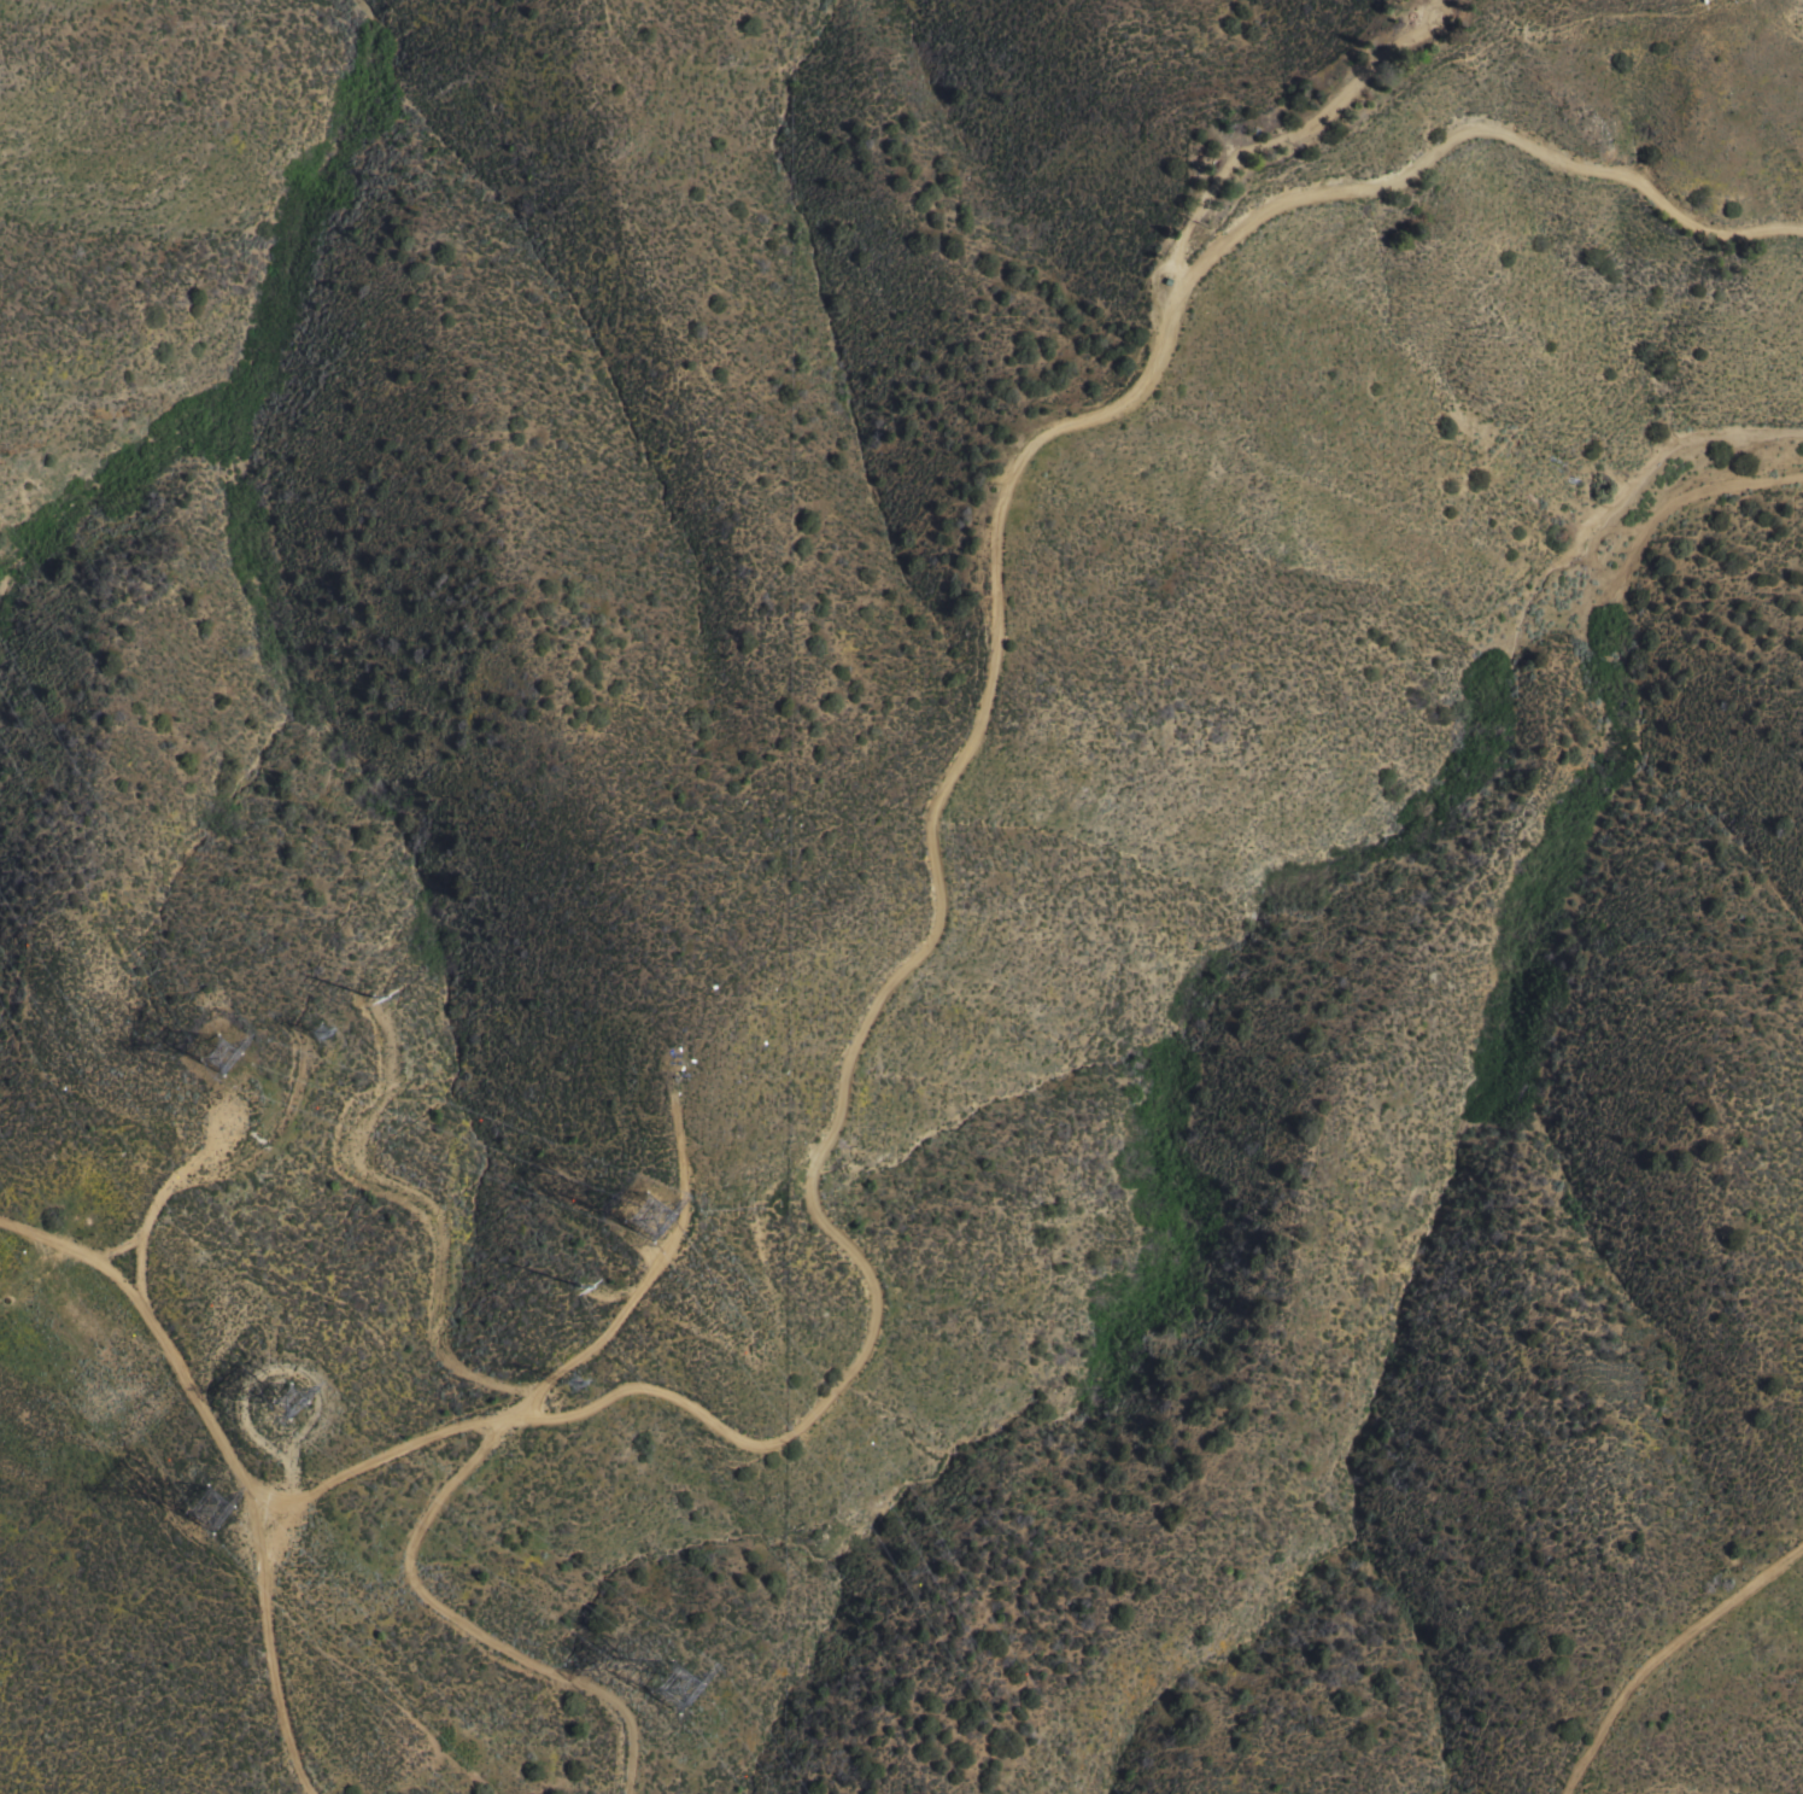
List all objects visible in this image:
building: (1436, 7)
power tower: (368, 999)
power tower: (320, 1034)
power tower: (199, 1047)
road: (696, 1065)
power tower: (642, 1212)
power tower: (576, 1290)
power tower: (568, 1375)
power tower: (299, 1403)
power tower: (201, 1492)
power tower: (654, 1690)

